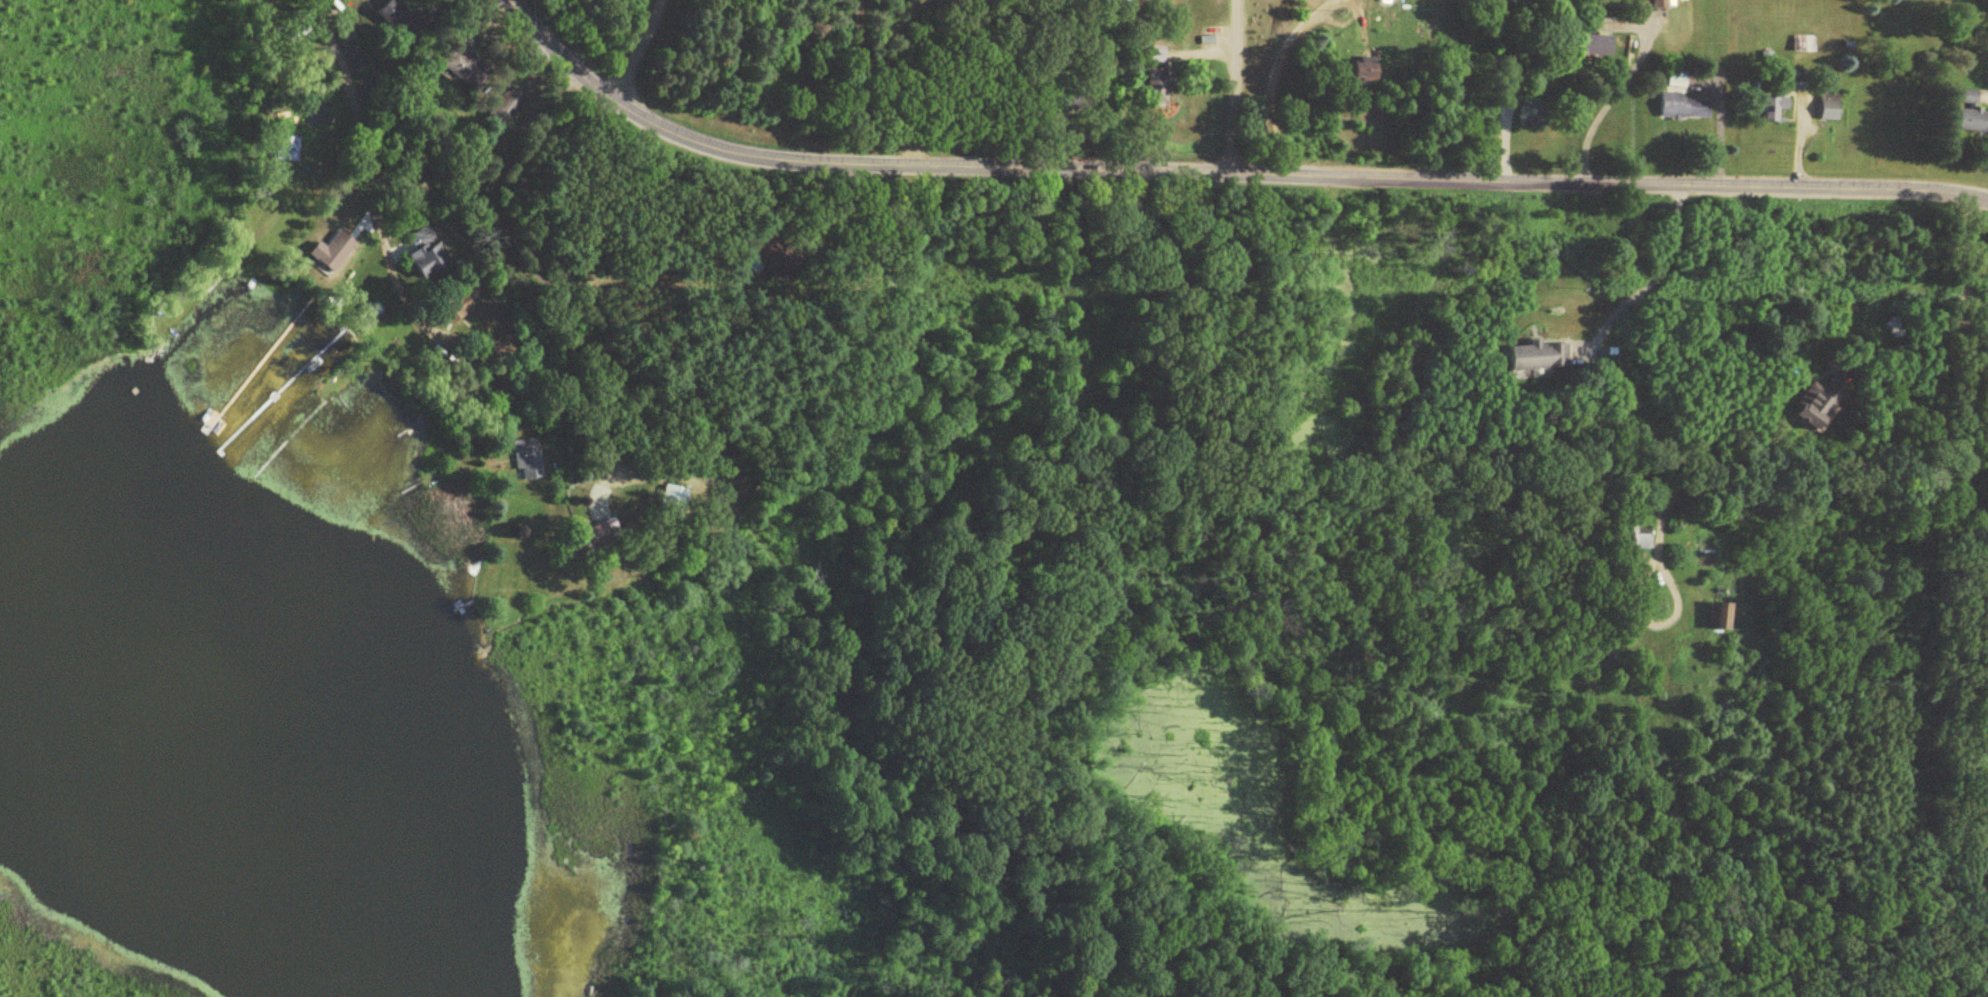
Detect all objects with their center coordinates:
building: (1660, 6)
building: (393, 21)
building: (1596, 48)
road: (633, 49)
building: (457, 71)
building: (1358, 73)
road: (1267, 77)
building: (1673, 82)
road: (882, 83)
road: (1227, 87)
building: (1154, 92)
road: (1614, 102)
building: (1683, 110)
building: (1829, 111)
building: (1770, 112)
building: (1970, 116)
building: (287, 152)
road: (1223, 174)
road: (369, 187)
building: (347, 244)
building: (429, 259)
road: (1650, 273)
building: (451, 306)
road: (1911, 338)
building: (1536, 360)
building: (1814, 407)
building: (530, 463)
road: (1889, 483)
building: (671, 502)
building: (1636, 539)
building: (1721, 619)

